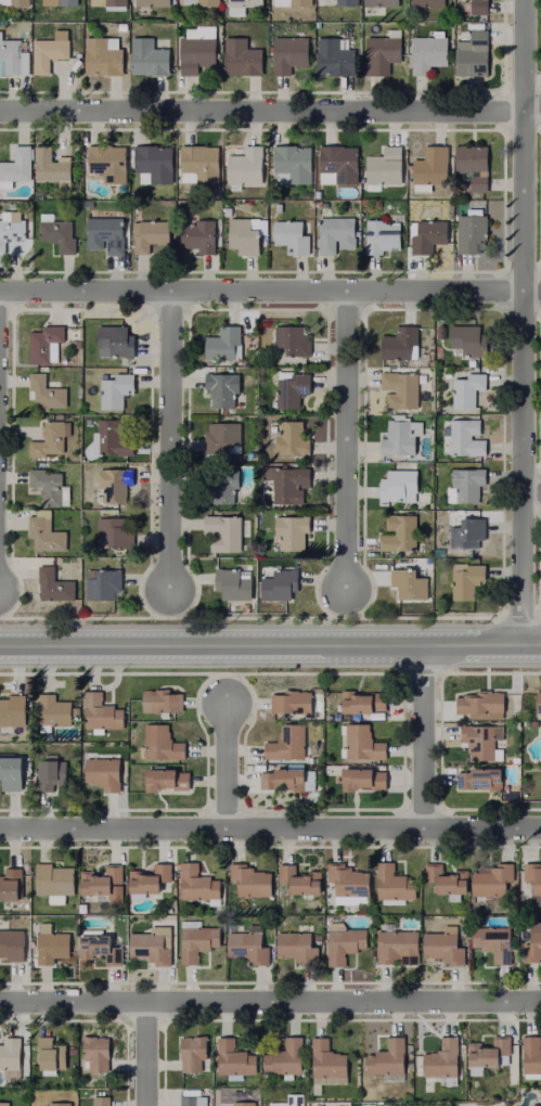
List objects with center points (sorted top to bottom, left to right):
building: (21, 2)
building: (68, 2)
building: (201, 2)
building: (294, 2)
building: (347, 2)
building: (384, 2)
building: (112, 4)
building: (150, 4)
building: (243, 5)
building: (481, 7)
building: (431, 8)
building: (201, 51)
building: (384, 51)
building: (430, 51)
building: (291, 52)
building: (50, 53)
building: (475, 53)
building: (14, 55)
building: (104, 55)
building: (243, 56)
building: (151, 57)
building: (336, 57)
road: (531, 105)
road: (262, 114)
building: (110, 162)
building: (155, 163)
building: (201, 163)
building: (294, 164)
building: (17, 165)
building: (50, 165)
building: (339, 165)
building: (385, 165)
building: (433, 165)
building: (474, 165)
building: (246, 167)
building: (11, 229)
building: (474, 231)
building: (107, 232)
building: (59, 233)
building: (198, 234)
building: (337, 234)
building: (151, 235)
building: (246, 235)
building: (430, 235)
building: (292, 236)
building: (384, 236)
road: (270, 293)
road: (519, 321)
building: (294, 339)
building: (471, 339)
building: (116, 340)
building: (46, 344)
building: (224, 344)
building: (408, 346)
building: (293, 388)
building: (117, 389)
building: (402, 389)
building: (221, 390)
building: (468, 390)
building: (48, 393)
building: (223, 438)
building: (465, 438)
building: (293, 439)
building: (398, 439)
building: (51, 440)
building: (112, 440)
road: (168, 443)
road: (340, 445)
building: (117, 484)
building: (223, 484)
building: (288, 484)
building: (471, 484)
building: (405, 485)
building: (49, 486)
road: (531, 496)
building: (116, 531)
building: (293, 531)
building: (227, 532)
building: (46, 533)
building: (401, 533)
building: (469, 533)
building: (469, 581)
building: (234, 583)
building: (104, 584)
building: (281, 584)
building: (410, 584)
building: (54, 586)
road: (270, 642)
building: (164, 702)
building: (293, 703)
building: (368, 705)
building: (485, 705)
building: (540, 705)
building: (13, 711)
building: (54, 712)
building: (102, 713)
road: (420, 735)
building: (480, 742)
building: (365, 744)
building: (163, 745)
building: (287, 745)
road: (223, 763)
building: (12, 774)
building: (51, 774)
building: (103, 774)
building: (292, 780)
building: (168, 781)
building: (268, 781)
building: (307, 781)
building: (365, 781)
building: (480, 781)
road: (270, 829)
building: (533, 878)
building: (151, 879)
building: (252, 880)
building: (301, 880)
building: (350, 880)
building: (449, 882)
building: (55, 883)
building: (494, 883)
building: (198, 884)
building: (395, 884)
building: (106, 886)
building: (11, 888)
building: (534, 901)
building: (197, 941)
building: (494, 942)
building: (345, 943)
building: (95, 944)
building: (12, 946)
building: (52, 946)
building: (396, 946)
building: (533, 946)
building: (248, 947)
building: (447, 947)
building: (152, 948)
building: (298, 948)
road: (270, 1004)
building: (96, 1053)
building: (491, 1053)
road: (144, 1055)
building: (194, 1055)
building: (11, 1056)
building: (51, 1056)
building: (532, 1056)
building: (286, 1059)
building: (235, 1060)
building: (390, 1062)
building: (446, 1062)
building: (329, 1065)
building: (102, 1101)
building: (289, 1101)
building: (195, 1102)
building: (11, 1104)
building: (61, 1104)
building: (244, 1104)
building: (342, 1104)
building: (402, 1104)
building: (534, 1105)

